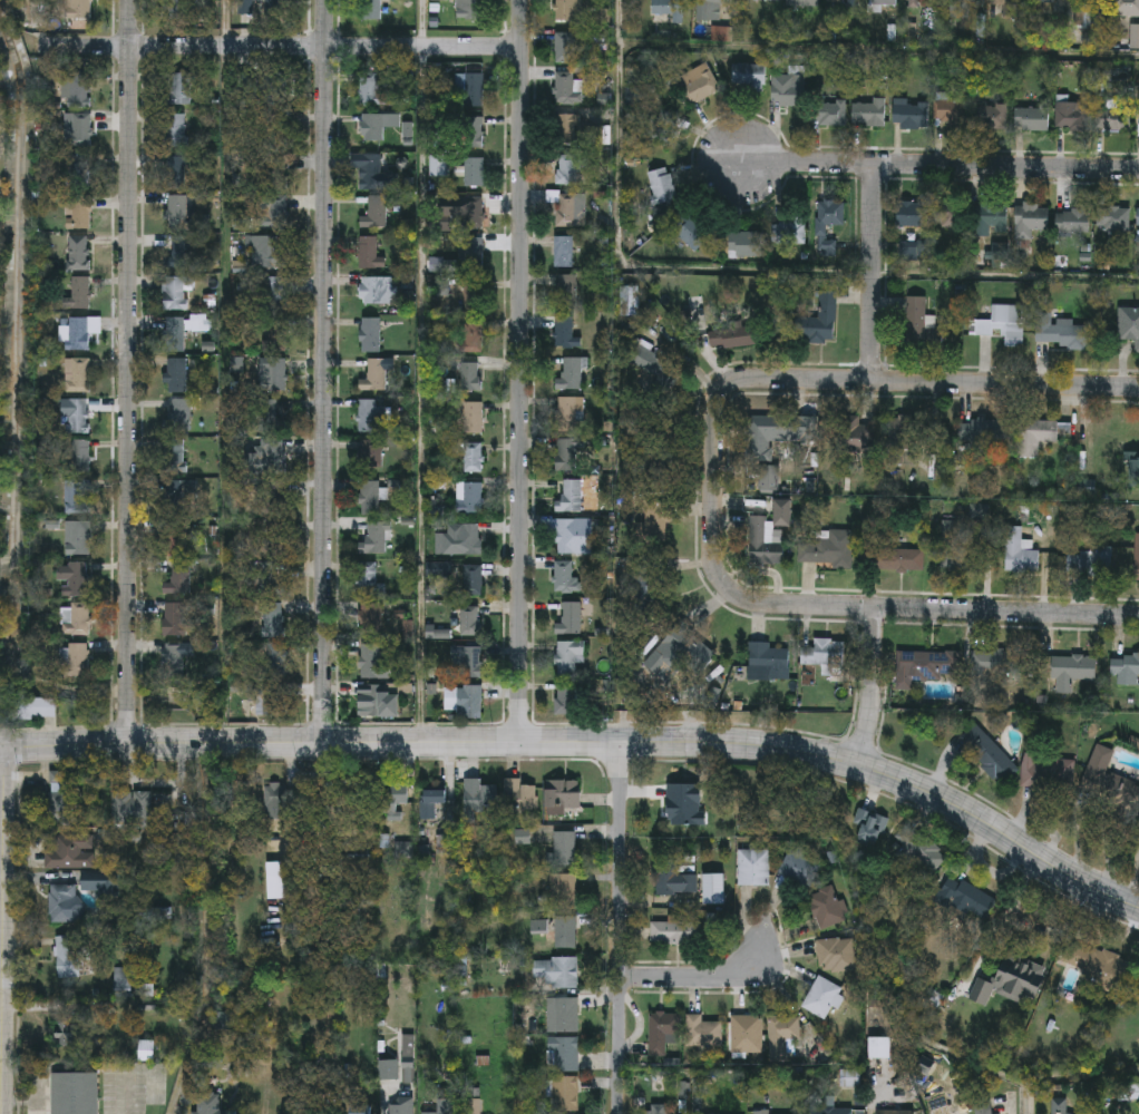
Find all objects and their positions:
building: (763, 1)
building: (927, 1)
building: (266, 2)
building: (853, 2)
building: (802, 3)
building: (883, 3)
building: (713, 4)
building: (1050, 4)
building: (1090, 6)
building: (1126, 6)
building: (669, 7)
building: (964, 8)
building: (470, 9)
building: (1009, 9)
building: (177, 10)
building: (372, 10)
building: (569, 10)
building: (79, 13)
road: (225, 21)
road: (279, 43)
building: (565, 47)
road: (878, 52)
building: (749, 75)
building: (699, 84)
building: (181, 88)
building: (568, 88)
building: (77, 89)
building: (369, 89)
building: (471, 89)
building: (789, 90)
road: (617, 91)
building: (634, 96)
building: (831, 113)
building: (870, 113)
building: (953, 113)
building: (912, 114)
building: (993, 116)
building: (1072, 116)
building: (1032, 118)
building: (276, 120)
building: (1114, 120)
building: (373, 127)
building: (660, 128)
building: (571, 129)
building: (81, 130)
building: (175, 130)
building: (470, 133)
road: (940, 167)
building: (79, 169)
building: (275, 169)
building: (569, 169)
building: (175, 172)
building: (473, 172)
building: (374, 173)
building: (662, 185)
building: (176, 208)
building: (275, 209)
building: (571, 209)
building: (376, 213)
building: (470, 213)
building: (831, 213)
building: (80, 214)
building: (911, 214)
building: (950, 216)
building: (993, 218)
building: (1117, 219)
building: (1138, 219)
building: (1031, 221)
building: (1073, 221)
building: (692, 232)
building: (789, 233)
building: (746, 245)
building: (914, 250)
building: (178, 252)
building: (267, 252)
building: (564, 252)
building: (79, 253)
building: (370, 253)
building: (473, 254)
road: (873, 273)
road: (1005, 277)
building: (377, 291)
building: (567, 291)
building: (79, 293)
building: (177, 293)
building: (275, 294)
building: (473, 295)
building: (630, 302)
building: (819, 322)
building: (1002, 324)
building: (1129, 325)
building: (919, 326)
building: (82, 332)
building: (1063, 332)
building: (175, 334)
building: (565, 334)
building: (370, 335)
building: (473, 335)
building: (276, 336)
building: (736, 336)
building: (639, 351)
road: (321, 371)
road: (517, 371)
road: (126, 372)
road: (421, 372)
building: (78, 374)
building: (176, 374)
building: (279, 374)
building: (572, 374)
building: (376, 375)
building: (471, 377)
road: (942, 382)
building: (569, 413)
building: (179, 414)
building: (79, 416)
building: (371, 416)
building: (474, 418)
building: (982, 431)
building: (909, 432)
building: (759, 433)
building: (857, 434)
building: (1034, 436)
building: (371, 455)
building: (567, 455)
building: (80, 456)
building: (175, 457)
building: (474, 457)
building: (274, 458)
building: (770, 478)
road: (713, 485)
building: (78, 497)
building: (174, 497)
building: (274, 497)
building: (370, 497)
building: (470, 497)
building: (571, 497)
building: (572, 535)
building: (79, 538)
building: (374, 538)
building: (175, 539)
building: (463, 539)
building: (762, 544)
building: (835, 549)
building: (957, 550)
building: (1020, 551)
building: (1137, 559)
building: (902, 560)
building: (1092, 560)
building: (565, 577)
building: (178, 578)
building: (76, 579)
building: (369, 579)
building: (474, 579)
road: (940, 612)
building: (371, 616)
building: (174, 618)
building: (77, 619)
building: (273, 619)
building: (569, 619)
building: (470, 620)
building: (825, 655)
building: (568, 656)
building: (662, 657)
building: (78, 658)
building: (174, 661)
building: (275, 661)
building: (467, 662)
building: (768, 662)
building: (372, 663)
building: (994, 663)
building: (931, 665)
building: (1126, 667)
building: (1065, 670)
road: (867, 685)
building: (270, 698)
building: (566, 698)
building: (372, 701)
building: (471, 701)
building: (33, 705)
road: (431, 743)
building: (989, 753)
building: (1048, 772)
building: (1109, 780)
building: (479, 795)
building: (519, 795)
building: (563, 795)
building: (395, 802)
building: (431, 802)
building: (275, 803)
building: (61, 804)
building: (676, 807)
building: (138, 811)
building: (870, 829)
road: (1000, 833)
building: (71, 851)
building: (563, 851)
building: (926, 858)
building: (755, 868)
building: (798, 869)
building: (674, 882)
building: (713, 891)
building: (564, 893)
building: (968, 900)
building: (66, 905)
building: (829, 909)
road: (620, 927)
road: (2, 931)
building: (675, 932)
building: (566, 935)
building: (837, 956)
building: (68, 958)
building: (1100, 965)
building: (557, 973)
road: (693, 978)
building: (123, 984)
building: (1013, 986)
building: (824, 998)
building: (566, 1017)
building: (68, 1028)
building: (663, 1034)
building: (703, 1035)
building: (747, 1035)
building: (782, 1036)
building: (879, 1048)
building: (147, 1053)
building: (565, 1055)
building: (389, 1071)
building: (850, 1078)
building: (74, 1094)
building: (565, 1095)
building: (208, 1104)
building: (402, 1106)
building: (1059, 1106)
building: (470, 1107)
building: (829, 1107)
building: (442, 1108)
building: (361, 1110)
building: (943, 1111)
building: (990, 1112)
building: (193, 1113)
building: (895, 1113)

